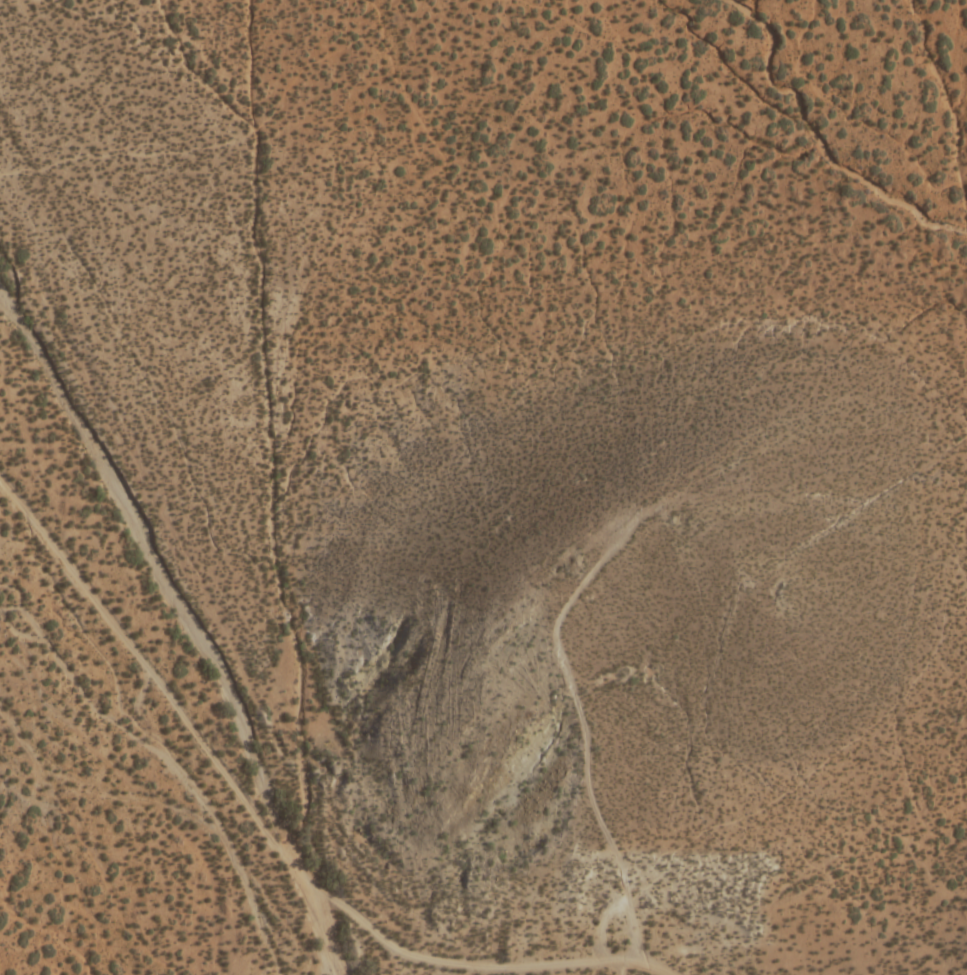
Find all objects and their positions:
road: (804, 144)
road: (94, 598)
road: (577, 716)
road: (383, 936)
road: (616, 969)

